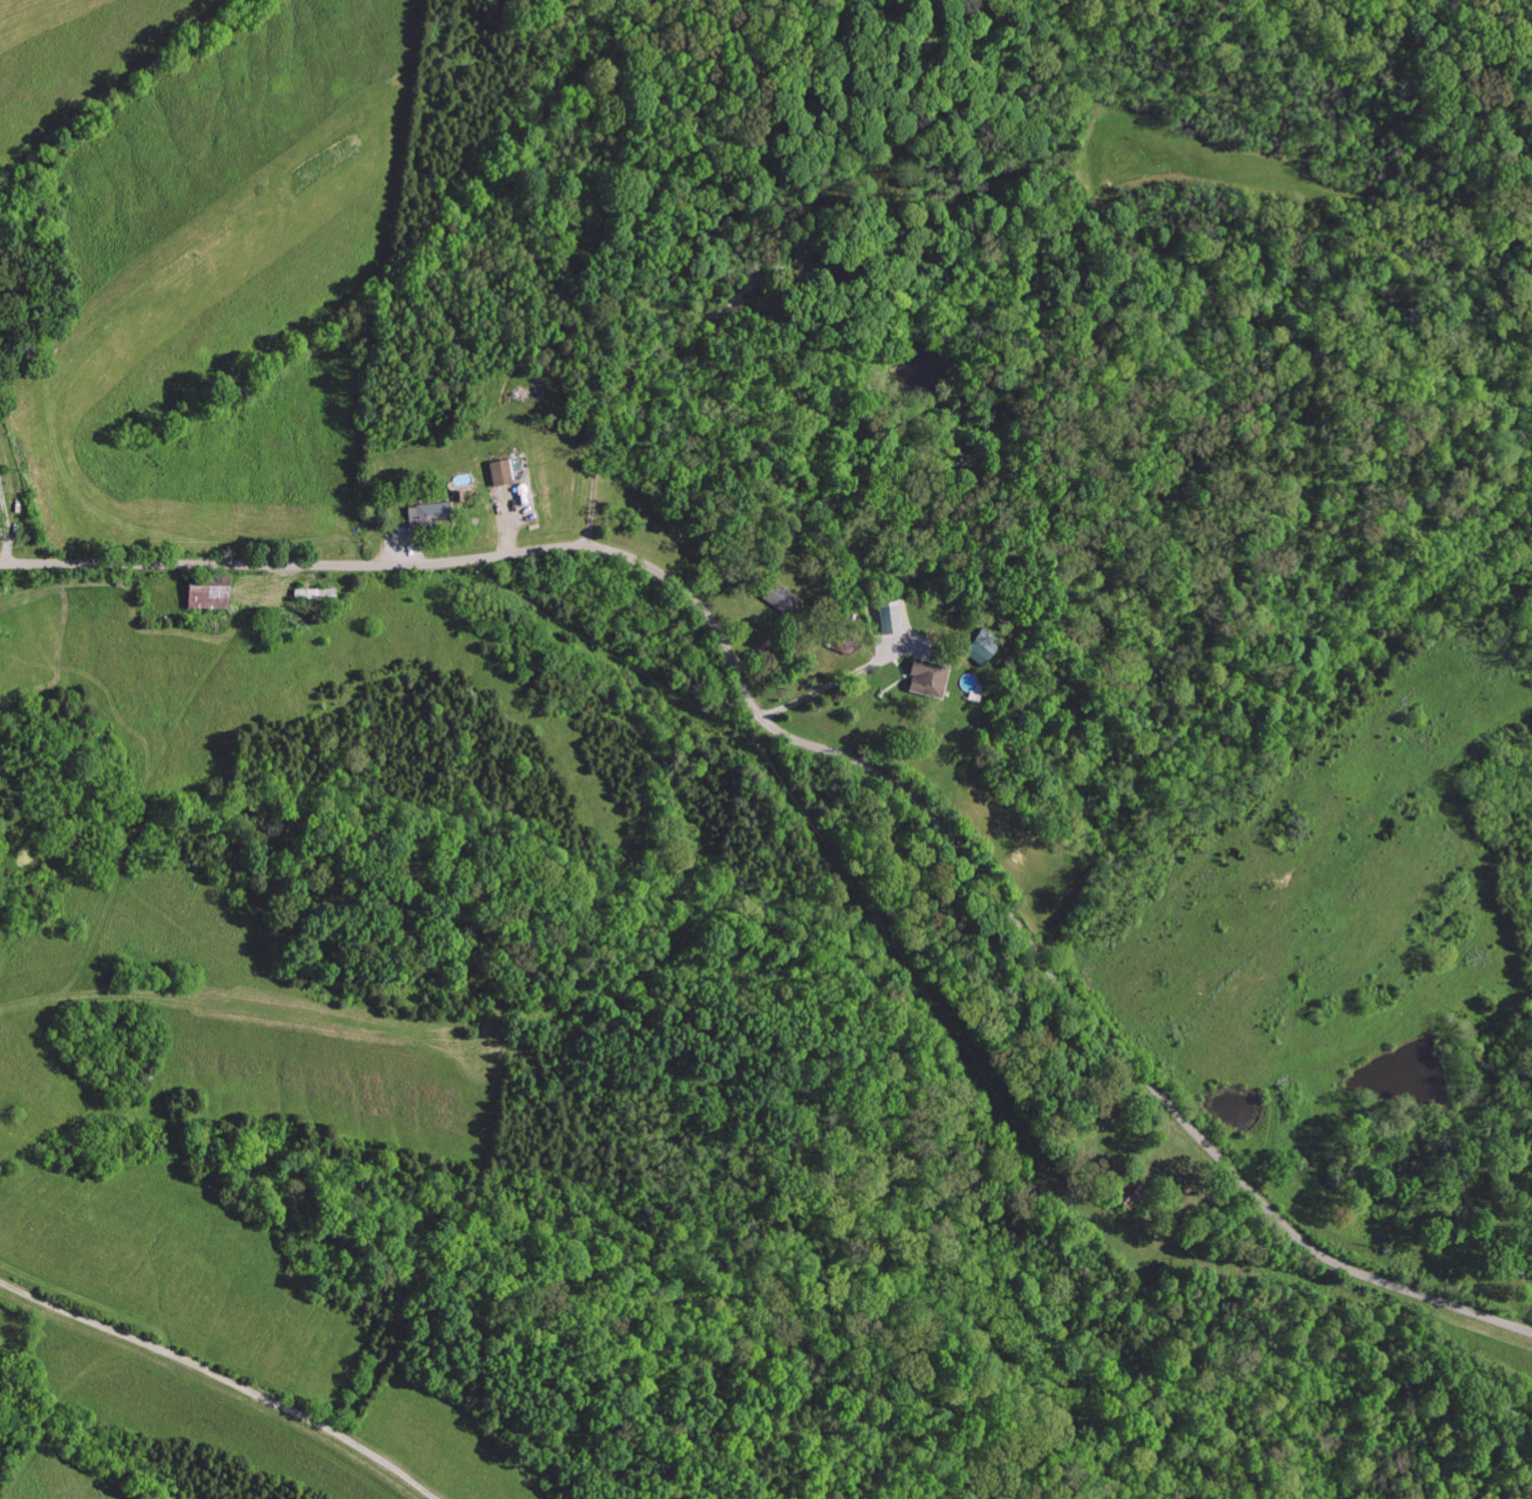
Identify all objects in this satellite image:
road: (638, 362)
building: (502, 471)
building: (425, 515)
building: (205, 597)
building: (777, 597)
building: (889, 617)
building: (926, 677)
road: (835, 681)
road: (835, 753)
road: (207, 1375)

